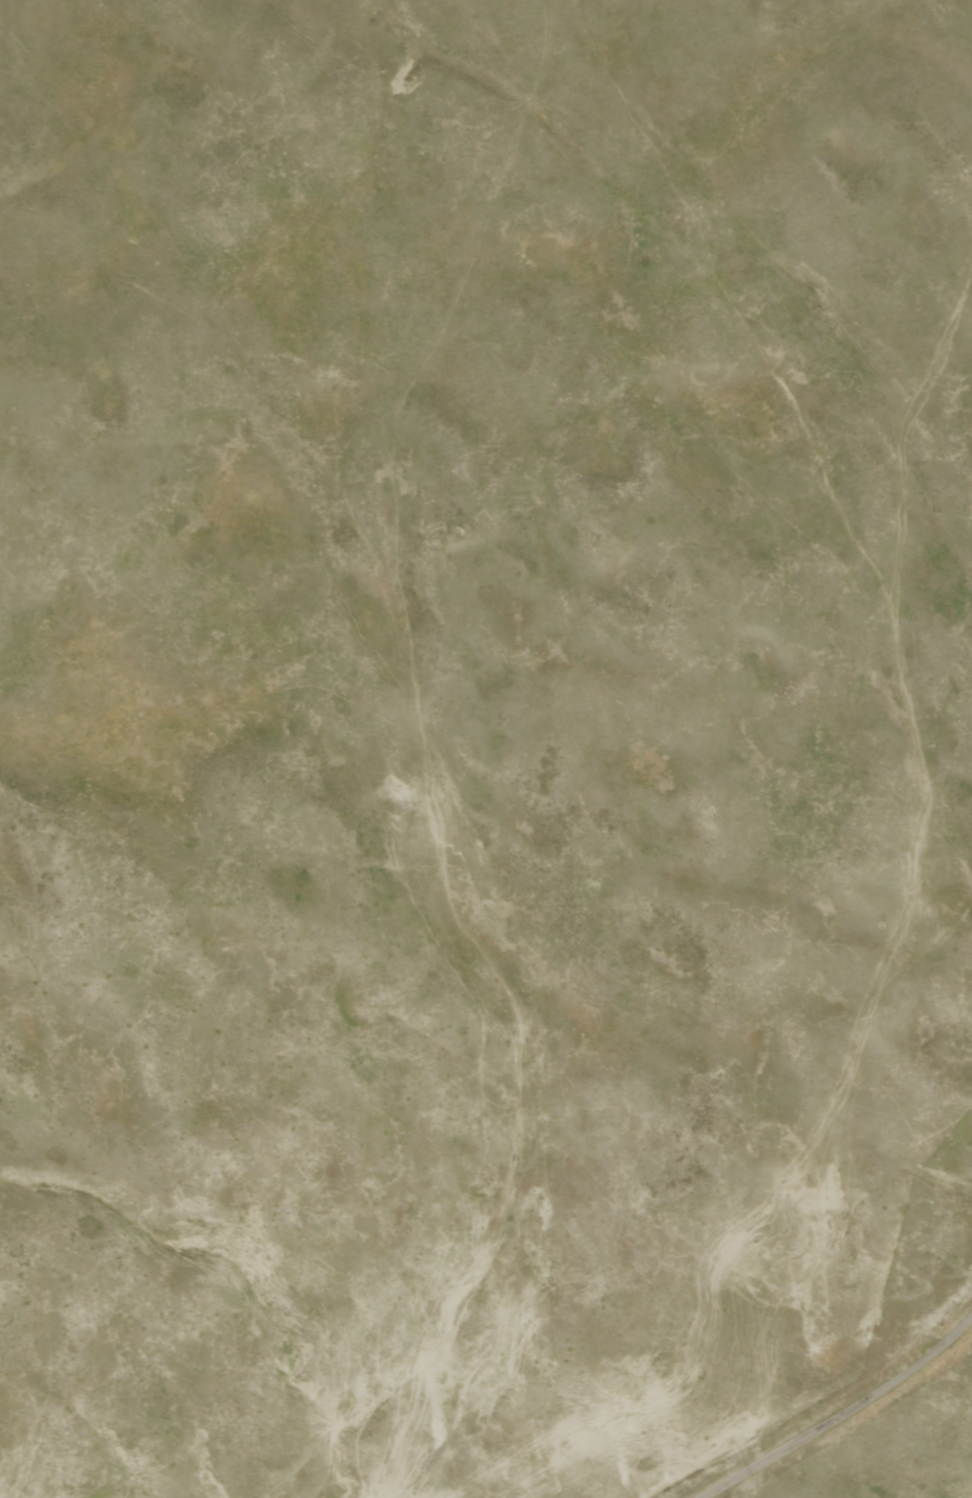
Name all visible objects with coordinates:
road: (841, 1412)

